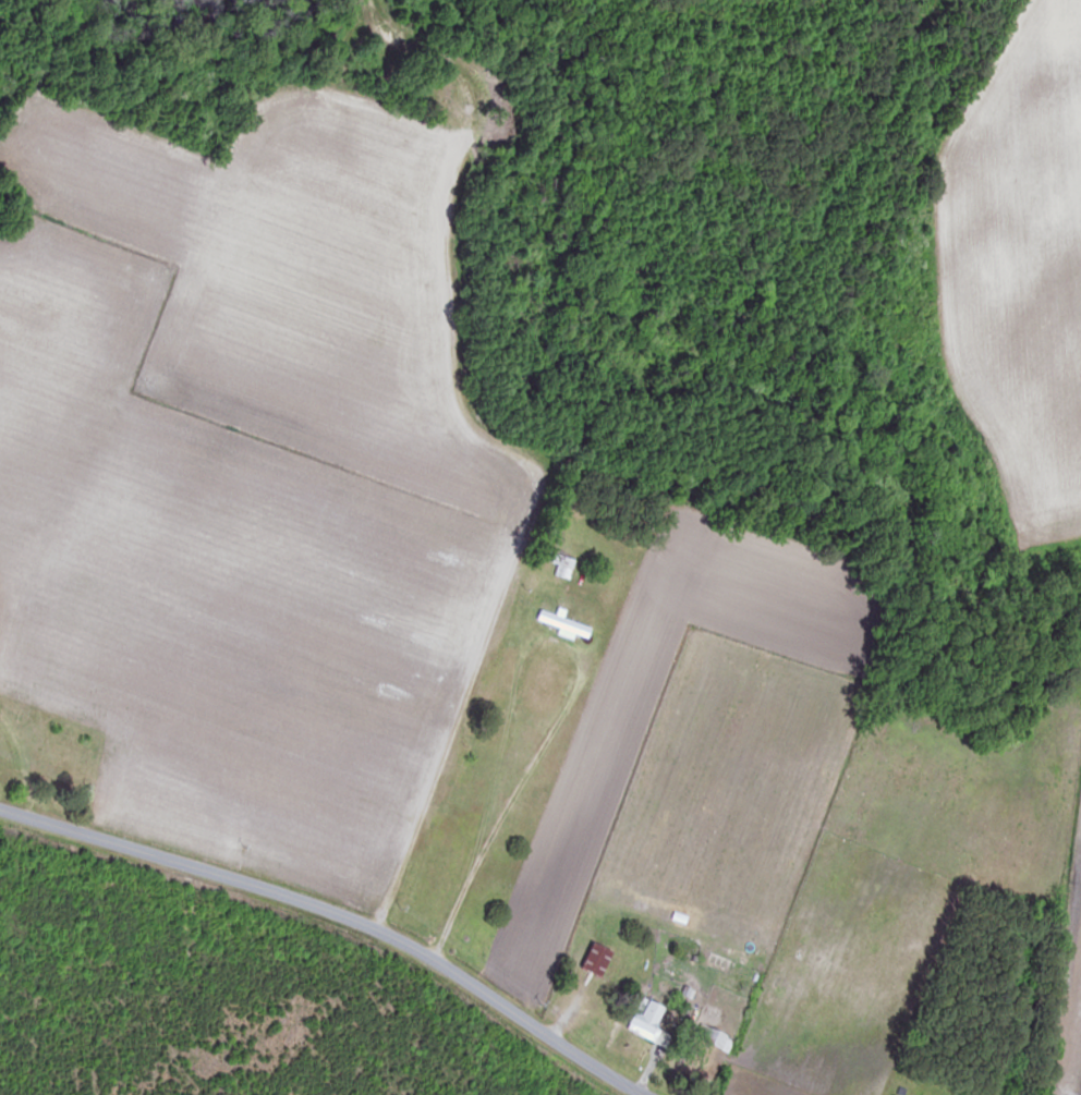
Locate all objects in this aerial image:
building: (563, 568)
building: (566, 623)
road: (335, 918)
building: (599, 960)
building: (652, 1023)
building: (716, 1038)

